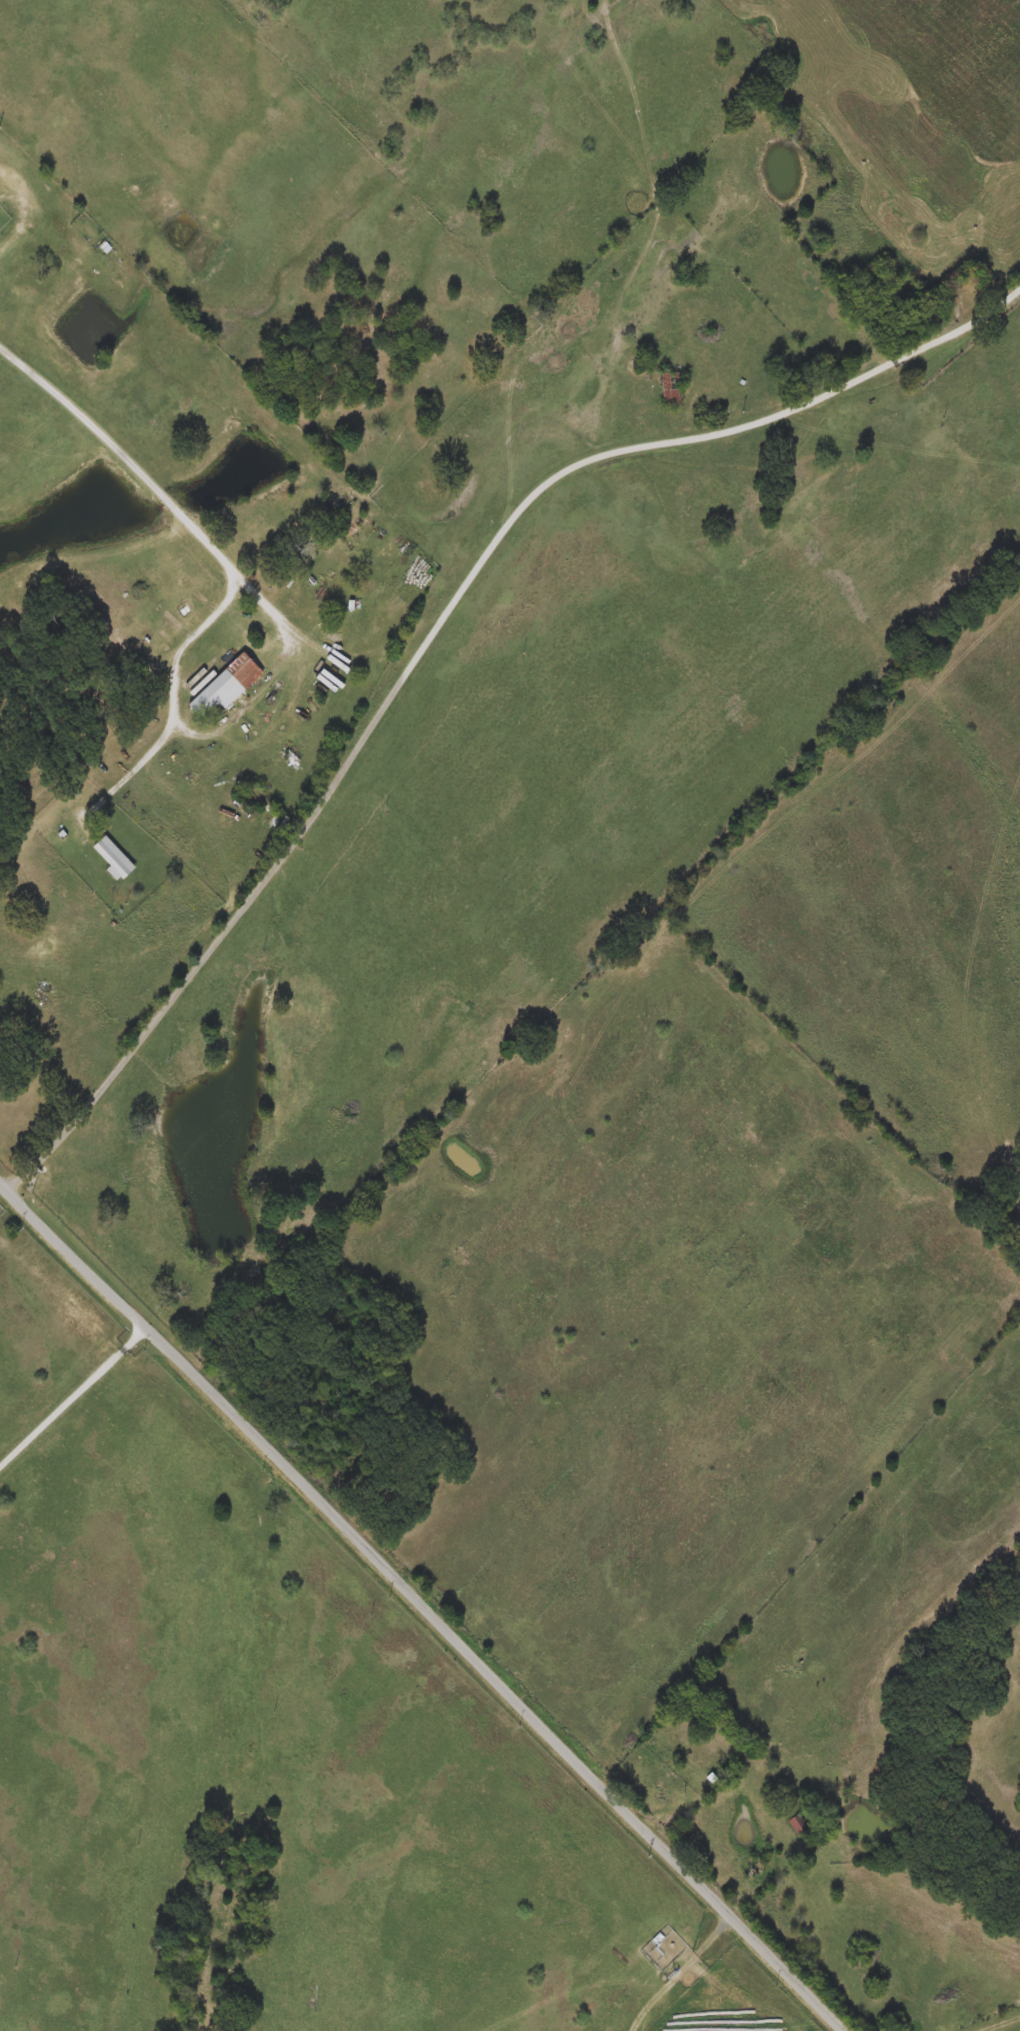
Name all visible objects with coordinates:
building: (672, 391)
road: (153, 487)
road: (444, 615)
road: (182, 645)
building: (227, 686)
road: (259, 689)
road: (152, 748)
building: (115, 858)
building: (197, 892)
road: (20, 1178)
road: (74, 1400)
road: (423, 1606)
road: (690, 1794)

